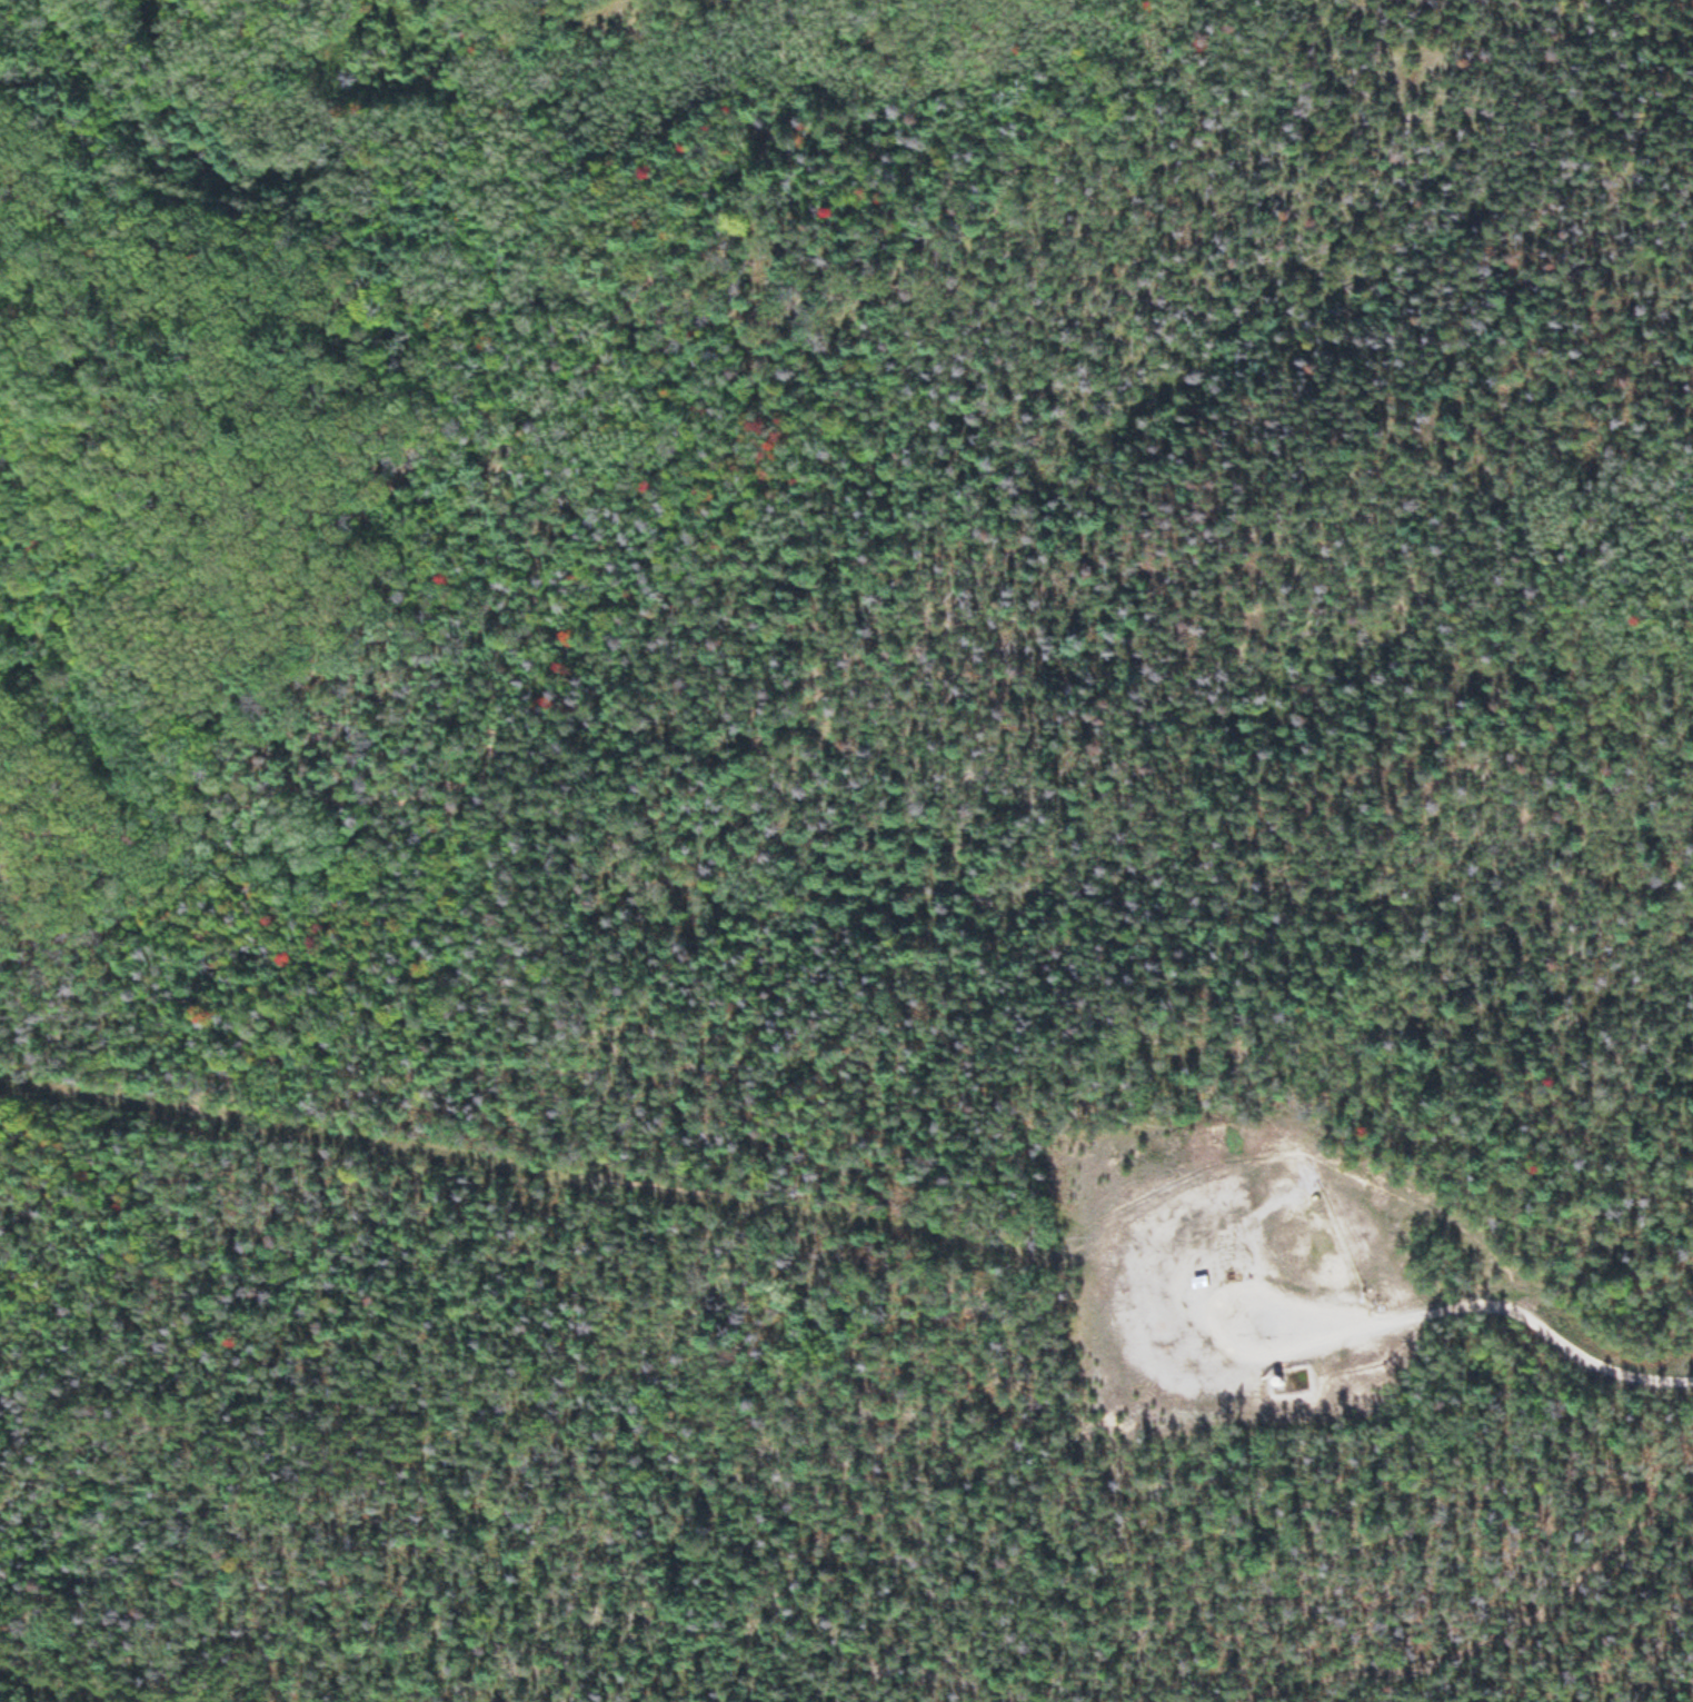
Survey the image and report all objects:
building: (1309, 1180)
road: (1512, 1310)
road: (1487, 1645)

